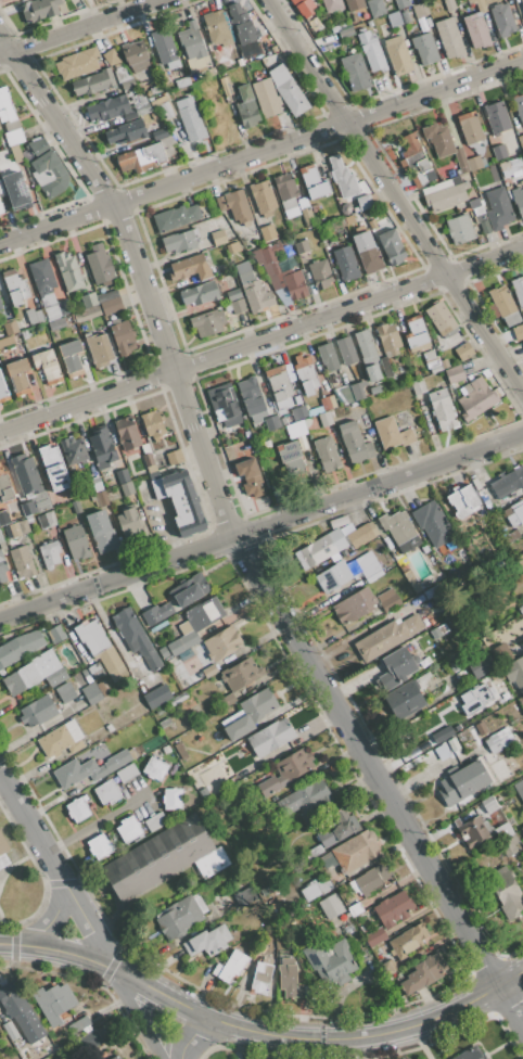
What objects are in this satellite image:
building: (522, 2)
building: (401, 3)
building: (332, 4)
building: (354, 4)
building: (449, 4)
building: (375, 8)
building: (39, 10)
building: (420, 11)
building: (307, 13)
building: (362, 17)
building: (405, 17)
building: (502, 20)
building: (242, 24)
road: (282, 24)
road: (85, 26)
building: (476, 26)
building: (217, 28)
building: (345, 34)
building: (449, 38)
building: (191, 41)
building: (164, 46)
building: (272, 49)
building: (425, 49)
building: (371, 52)
road: (4, 54)
building: (135, 55)
building: (397, 55)
building: (111, 58)
building: (239, 62)
building: (77, 63)
building: (212, 71)
building: (355, 72)
building: (93, 82)
building: (182, 82)
building: (128, 85)
building: (227, 86)
building: (291, 97)
building: (266, 98)
building: (519, 106)
building: (246, 107)
building: (106, 109)
building: (142, 110)
building: (167, 110)
building: (496, 117)
building: (9, 119)
building: (189, 120)
building: (469, 128)
building: (126, 132)
road: (320, 135)
building: (520, 140)
building: (444, 144)
building: (38, 148)
building: (499, 152)
building: (142, 158)
building: (414, 158)
building: (44, 161)
building: (519, 162)
building: (1, 163)
building: (475, 163)
building: (505, 166)
building: (342, 177)
building: (55, 181)
building: (314, 182)
building: (15, 189)
building: (1, 191)
building: (447, 194)
building: (263, 197)
building: (516, 201)
building: (292, 203)
building: (363, 203)
building: (235, 205)
building: (315, 207)
building: (497, 208)
building: (1, 210)
building: (477, 210)
building: (176, 217)
road: (410, 219)
road: (58, 227)
building: (484, 227)
building: (460, 228)
building: (267, 232)
building: (327, 234)
building: (218, 237)
building: (179, 241)
building: (301, 246)
building: (392, 247)
building: (367, 253)
building: (263, 255)
building: (346, 264)
building: (100, 265)
building: (190, 268)
building: (68, 270)
road: (143, 273)
building: (320, 273)
building: (15, 285)
building: (295, 285)
building: (47, 289)
building: (253, 289)
building: (518, 289)
building: (201, 293)
building: (234, 302)
building: (1, 305)
building: (99, 305)
building: (505, 305)
road: (352, 310)
building: (2, 315)
building: (34, 316)
building: (441, 318)
building: (208, 322)
building: (56, 323)
building: (10, 328)
building: (518, 332)
building: (416, 334)
building: (123, 336)
building: (388, 337)
building: (7, 341)
building: (365, 346)
building: (99, 349)
building: (346, 350)
building: (463, 352)
building: (328, 357)
building: (71, 358)
building: (434, 361)
building: (47, 366)
building: (385, 367)
building: (356, 368)
building: (372, 372)
building: (305, 374)
building: (455, 374)
building: (18, 377)
building: (280, 385)
building: (418, 386)
building: (374, 390)
building: (3, 391)
building: (352, 393)
building: (476, 397)
building: (251, 399)
road: (90, 401)
building: (328, 403)
building: (224, 405)
building: (443, 409)
building: (315, 411)
building: (281, 412)
building: (298, 412)
building: (324, 419)
building: (282, 421)
building: (271, 423)
building: (153, 424)
building: (298, 429)
building: (127, 433)
building: (392, 433)
building: (246, 435)
building: (355, 443)
building: (266, 445)
building: (102, 447)
building: (145, 448)
building: (73, 450)
building: (327, 454)
building: (174, 457)
building: (290, 458)
building: (164, 461)
building: (149, 462)
building: (53, 469)
building: (153, 475)
building: (122, 476)
building: (250, 479)
building: (472, 480)
building: (480, 480)
building: (509, 483)
building: (97, 484)
building: (29, 486)
building: (5, 487)
building: (127, 488)
building: (101, 498)
building: (180, 501)
building: (463, 501)
building: (76, 507)
building: (514, 513)
building: (15, 515)
building: (3, 518)
building: (49, 523)
building: (129, 524)
building: (18, 528)
road: (259, 528)
building: (346, 528)
building: (399, 531)
building: (101, 532)
building: (437, 532)
building: (361, 535)
building: (510, 537)
building: (1, 538)
building: (76, 543)
building: (320, 549)
building: (48, 554)
building: (22, 561)
building: (520, 561)
building: (3, 567)
building: (372, 571)
building: (333, 577)
building: (409, 578)
building: (189, 590)
building: (387, 600)
building: (354, 605)
building: (156, 613)
building: (203, 613)
building: (441, 631)
building: (55, 634)
building: (187, 635)
building: (91, 636)
building: (386, 636)
building: (136, 641)
building: (510, 642)
building: (221, 643)
building: (20, 647)
building: (174, 648)
building: (163, 652)
building: (503, 652)
building: (227, 660)
building: (111, 664)
building: (482, 666)
building: (397, 667)
building: (176, 669)
building: (95, 671)
building: (209, 671)
building: (514, 673)
building: (53, 674)
building: (239, 675)
building: (196, 678)
building: (461, 678)
building: (21, 679)
building: (183, 687)
building: (102, 688)
building: (64, 692)
building: (91, 693)
building: (481, 693)
building: (157, 696)
building: (178, 698)
building: (227, 700)
building: (404, 700)
building: (521, 701)
building: (37, 711)
building: (248, 713)
building: (164, 723)
building: (109, 728)
building: (481, 728)
building: (129, 729)
building: (443, 735)
building: (267, 738)
building: (61, 739)
building: (498, 739)
building: (158, 740)
building: (452, 744)
building: (179, 752)
building: (294, 765)
building: (155, 768)
building: (88, 769)
building: (127, 773)
building: (243, 773)
road: (380, 776)
road: (1, 777)
building: (464, 781)
building: (270, 786)
building: (519, 788)
building: (106, 792)
building: (173, 799)
building: (306, 802)
building: (488, 805)
building: (77, 809)
building: (155, 821)
road: (91, 826)
building: (128, 828)
road: (33, 829)
building: (336, 829)
building: (473, 830)
building: (522, 830)
building: (302, 834)
building: (506, 839)
building: (3, 843)
building: (99, 845)
building: (315, 851)
building: (350, 854)
building: (3, 859)
building: (164, 859)
building: (374, 878)
building: (324, 885)
building: (505, 892)
building: (331, 906)
building: (355, 908)
building: (393, 909)
building: (180, 915)
road: (51, 919)
road: (87, 927)
building: (322, 934)
building: (375, 936)
building: (408, 940)
building: (207, 941)
building: (330, 961)
building: (230, 966)
building: (387, 967)
building: (423, 973)
building: (260, 974)
building: (289, 978)
road: (514, 982)
building: (53, 1003)
building: (18, 1010)
road: (138, 1012)
building: (78, 1024)
road: (250, 1029)
building: (10, 1031)
road: (190, 1036)
building: (91, 1039)
building: (50, 1049)
building: (24, 1054)
building: (469, 1054)
building: (116, 1057)

